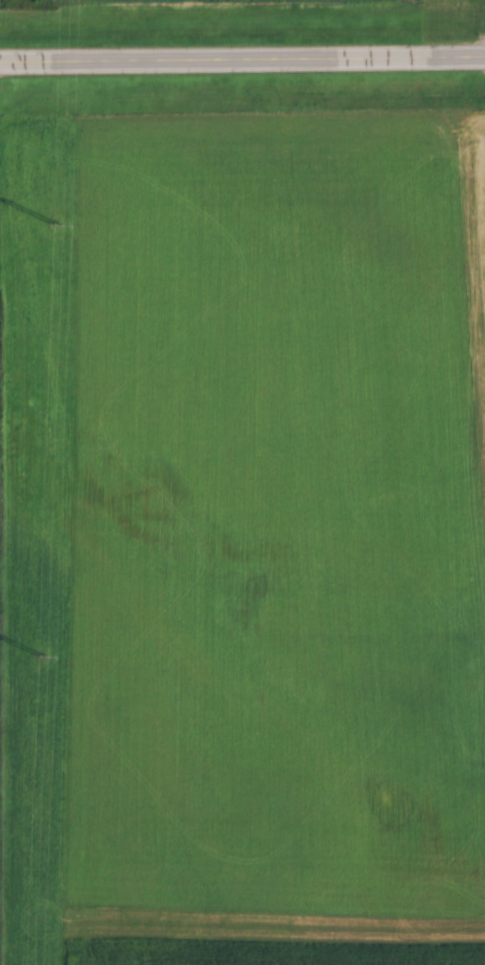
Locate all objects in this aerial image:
road: (242, 55)
power tower: (53, 226)
power tower: (39, 657)

